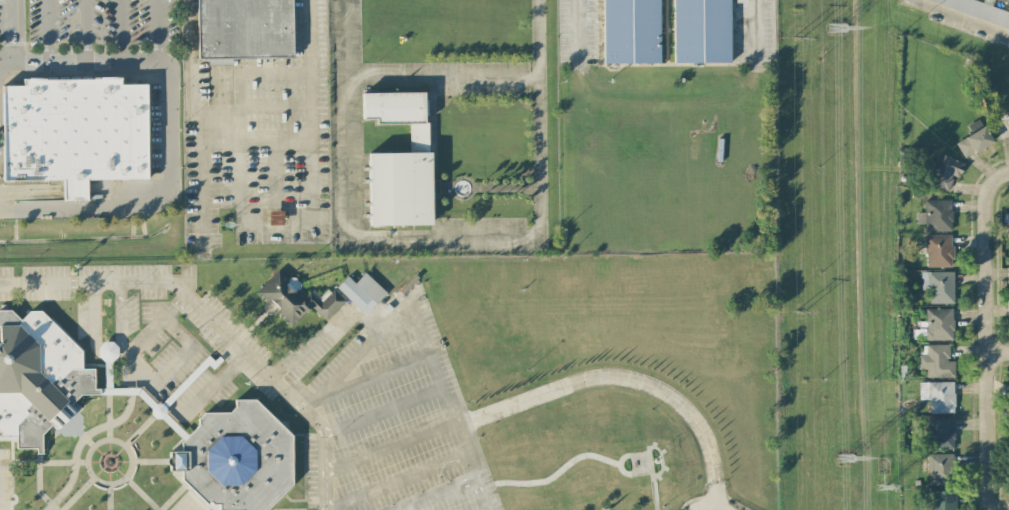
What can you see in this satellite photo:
building: (979, 10)
road: (13, 15)
road: (961, 17)
power tower: (836, 27)
road: (7, 30)
road: (83, 30)
road: (120, 30)
building: (244, 30)
building: (701, 30)
building: (631, 31)
road: (755, 33)
road: (577, 34)
power tower: (795, 37)
road: (15, 45)
road: (45, 52)
road: (100, 60)
road: (443, 77)
building: (394, 107)
building: (72, 133)
building: (973, 142)
building: (942, 171)
road: (1003, 173)
road: (173, 175)
road: (203, 177)
building: (399, 188)
fountain: (462, 188)
building: (935, 215)
building: (275, 217)
road: (265, 227)
road: (856, 229)
building: (1008, 235)
road: (445, 237)
building: (938, 251)
street lamp: (17, 274)
building: (1007, 275)
building: (408, 283)
building: (938, 286)
building: (361, 290)
street lamp: (129, 292)
street lamp: (85, 293)
building: (298, 297)
building: (1008, 303)
power tower: (799, 312)
road: (262, 316)
street lamp: (108, 318)
street lamp: (184, 318)
road: (216, 323)
building: (935, 325)
road: (155, 327)
road: (210, 331)
road: (324, 332)
road: (216, 336)
road: (242, 336)
road: (985, 340)
road: (212, 347)
building: (108, 349)
road: (125, 349)
road: (229, 349)
road: (997, 352)
road: (107, 353)
street lamp: (213, 353)
road: (108, 356)
road: (354, 356)
building: (936, 361)
road: (175, 363)
road: (229, 364)
street lamp: (527, 369)
road: (130, 370)
road: (369, 379)
road: (623, 379)
building: (36, 380)
street lamp: (254, 387)
road: (209, 388)
road: (113, 389)
road: (131, 389)
road: (109, 390)
road: (173, 395)
building: (938, 396)
road: (447, 409)
building: (1008, 409)
street lamp: (651, 410)
road: (161, 412)
road: (382, 412)
road: (276, 418)
road: (72, 425)
road: (109, 425)
street lamp: (126, 431)
building: (940, 433)
road: (109, 434)
road: (315, 435)
road: (83, 436)
road: (83, 437)
road: (91, 443)
road: (882, 444)
road: (389, 447)
building: (236, 458)
power tower: (845, 459)
road: (661, 460)
road: (148, 461)
road: (75, 462)
road: (83, 462)
road: (36, 463)
road: (650, 464)
road: (619, 467)
road: (305, 468)
building: (940, 469)
road: (6, 474)
road: (39, 478)
road: (551, 478)
road: (13, 479)
road: (178, 479)
street lamp: (80, 480)
road: (97, 480)
road: (395, 480)
road: (6, 483)
power tower: (882, 485)
road: (6, 491)
road: (77, 493)
road: (141, 493)
road: (432, 493)
road: (110, 496)
road: (173, 497)
road: (196, 498)
street lamp: (10, 499)
road: (315, 500)
building: (941, 500)
road: (186, 501)
road: (292, 501)
park: (440, 502)
road: (52, 504)
road: (656, 506)
street lamp: (663, 507)
road: (56, 508)

